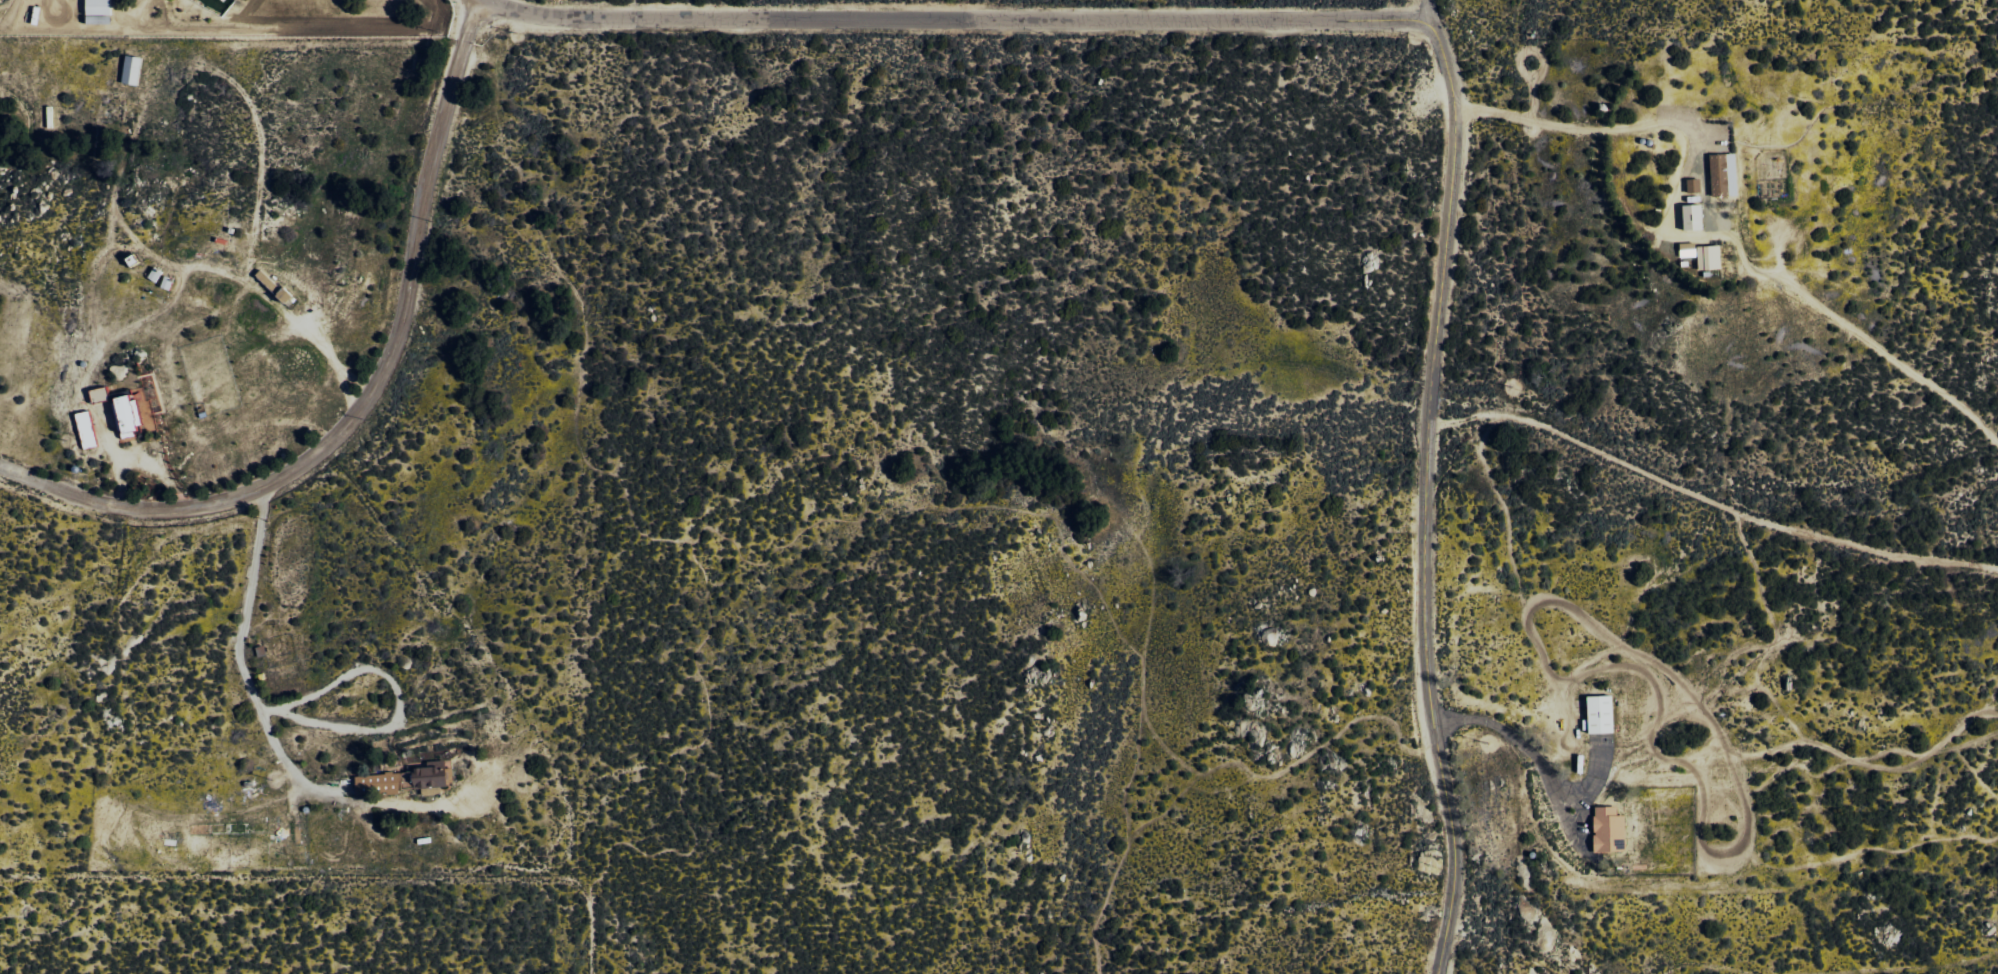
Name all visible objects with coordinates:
building: (226, 1)
road: (1431, 10)
road: (474, 11)
building: (100, 12)
road: (549, 15)
building: (133, 69)
building: (1691, 185)
building: (1689, 216)
building: (1705, 257)
building: (129, 415)
building: (88, 429)
road: (1428, 497)
road: (1709, 500)
building: (1606, 711)
building: (425, 775)
building: (1615, 827)

